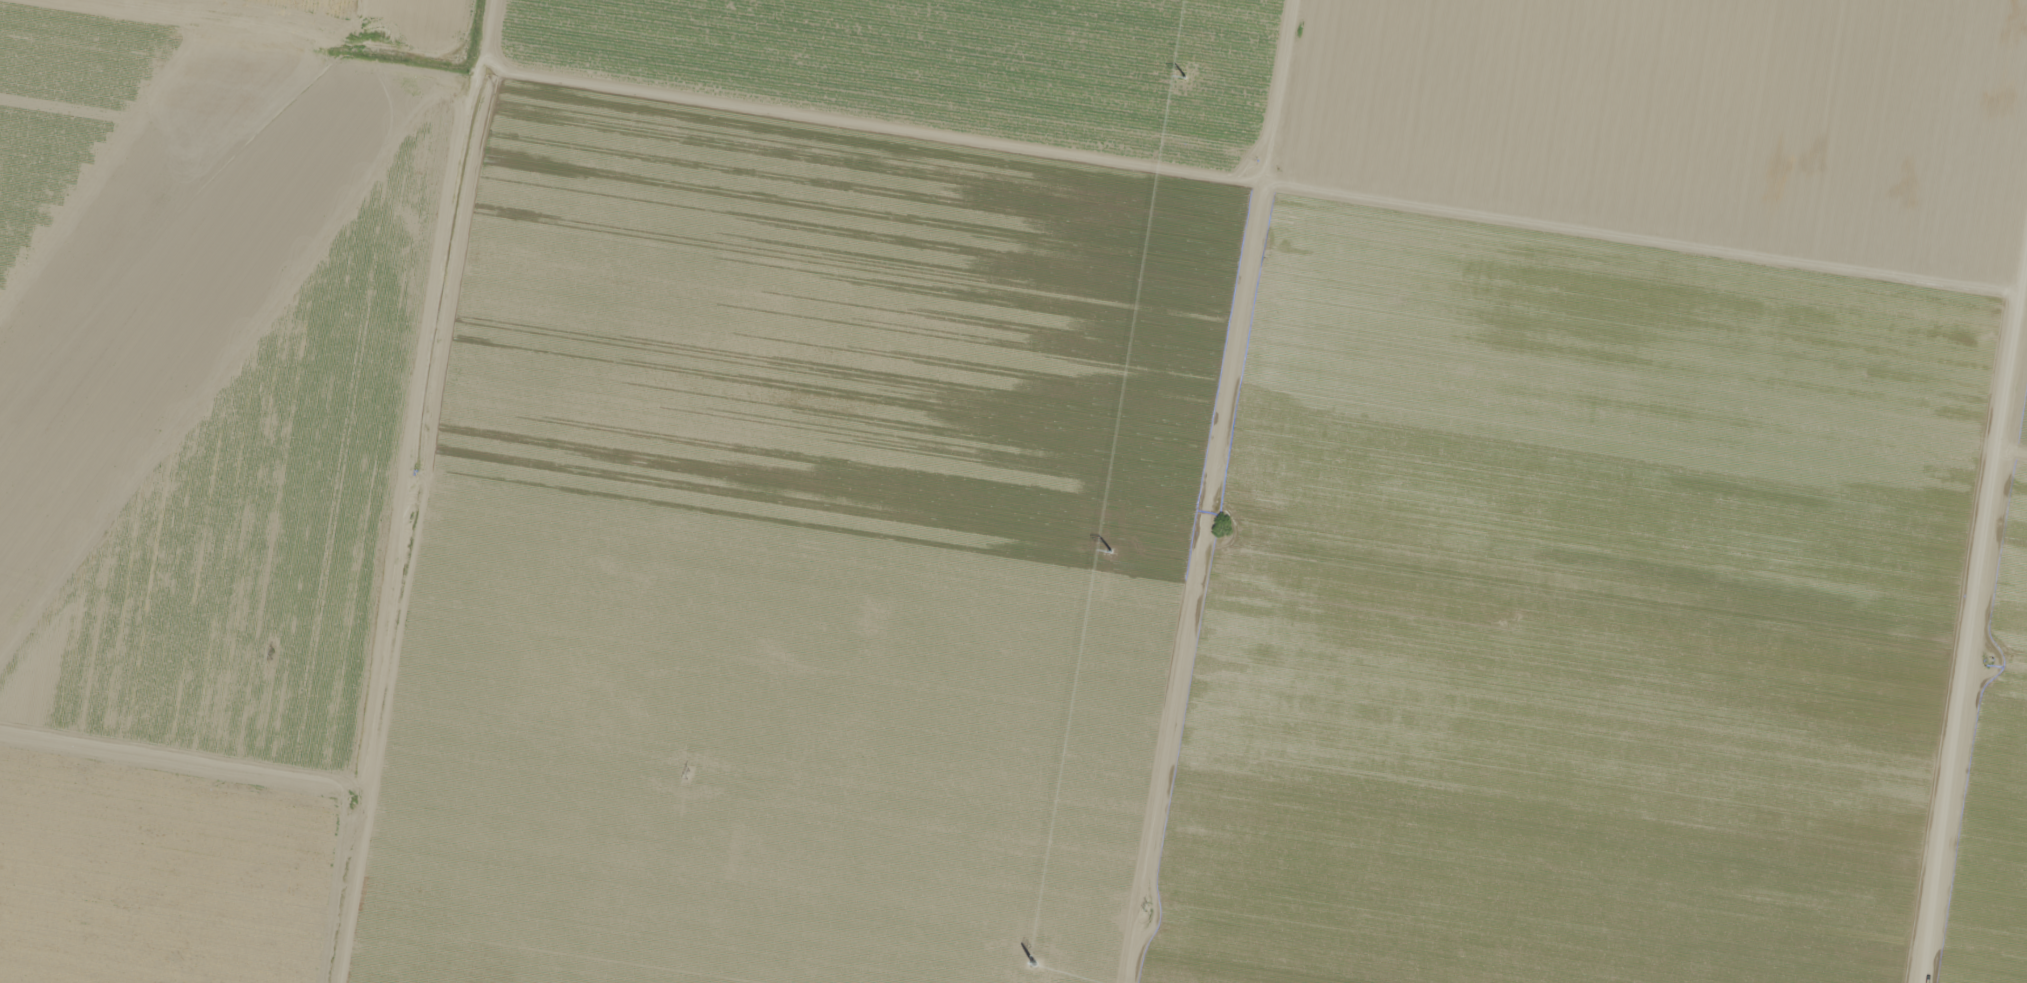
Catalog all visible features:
power tower: (1185, 76)
road: (654, 79)
power tower: (1111, 552)
power tower: (273, 656)
road: (1982, 696)
power tower: (688, 775)
power tower: (1146, 907)
power tower: (1035, 965)

